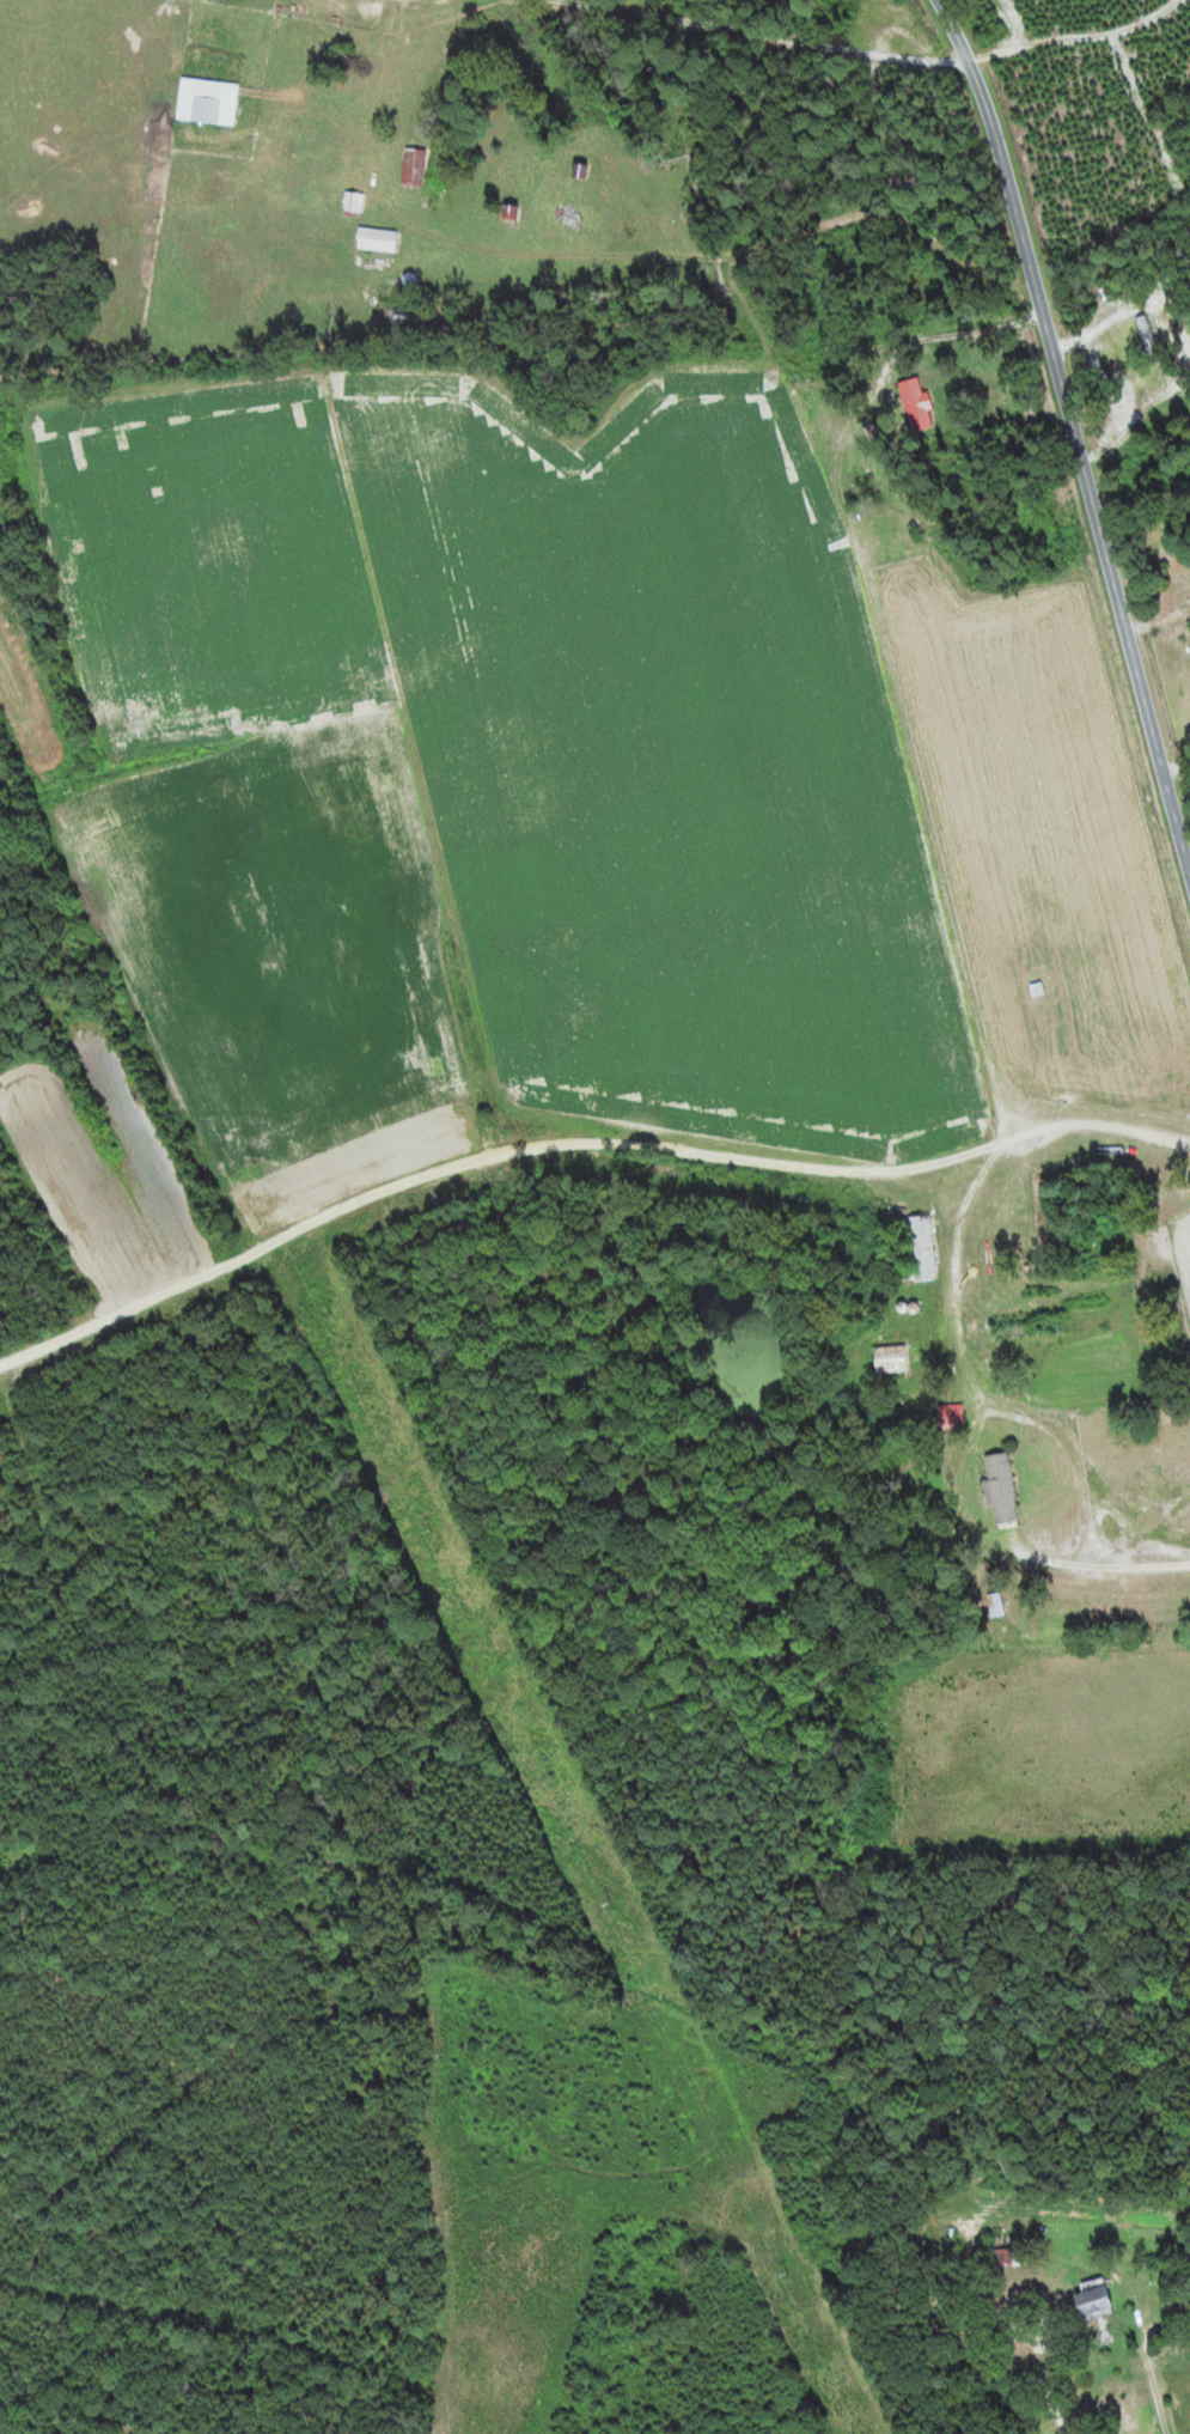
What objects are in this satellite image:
building: (214, 99)
building: (419, 165)
building: (382, 238)
building: (921, 403)
road: (1074, 436)
road: (1038, 1133)
road: (432, 1188)
building: (929, 1248)
building: (898, 1358)
building: (957, 1417)
building: (1007, 1487)
building: (1103, 2302)

